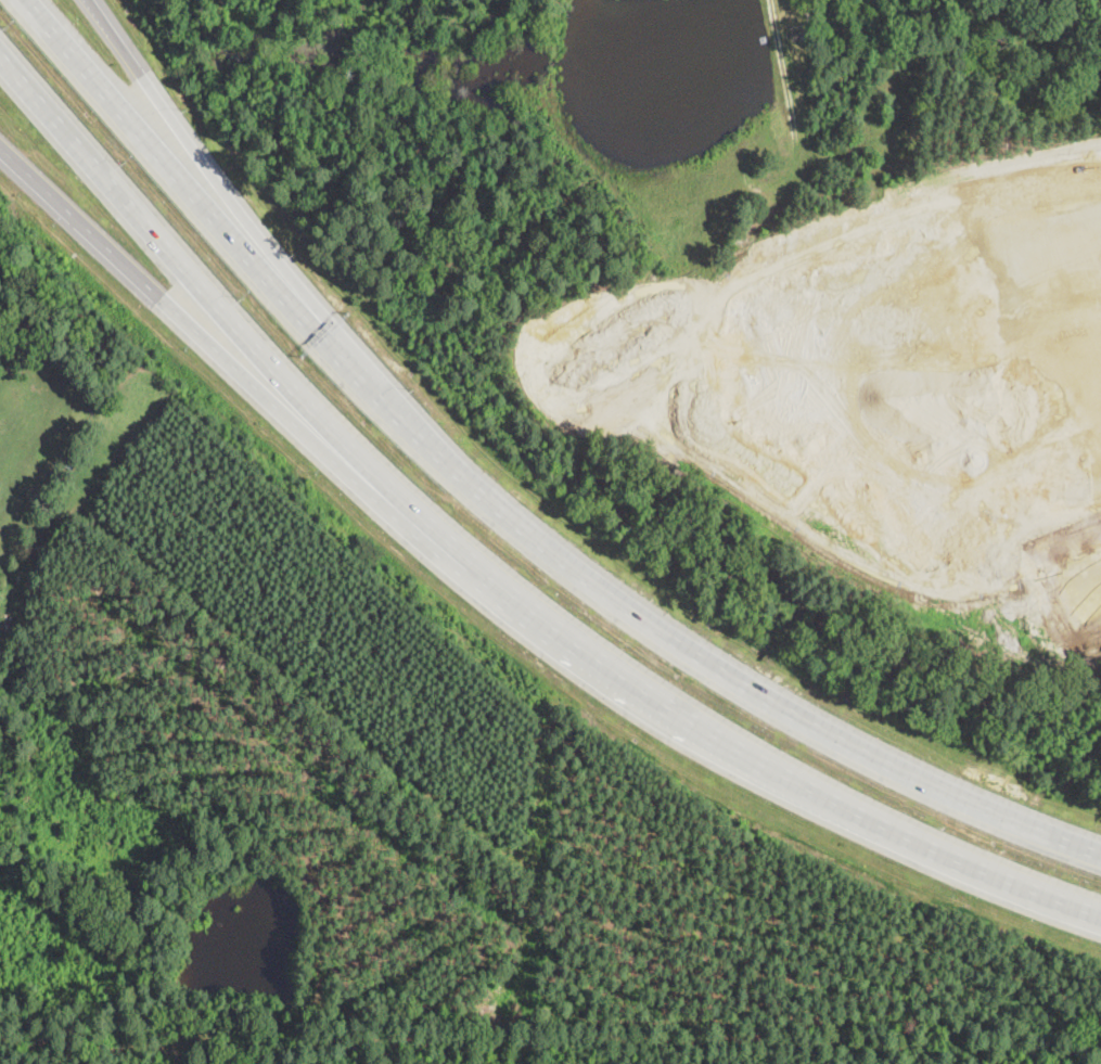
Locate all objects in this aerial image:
road: (221, 182)
building: (26, 352)
road: (905, 361)
road: (246, 380)
road: (499, 511)
road: (483, 567)

